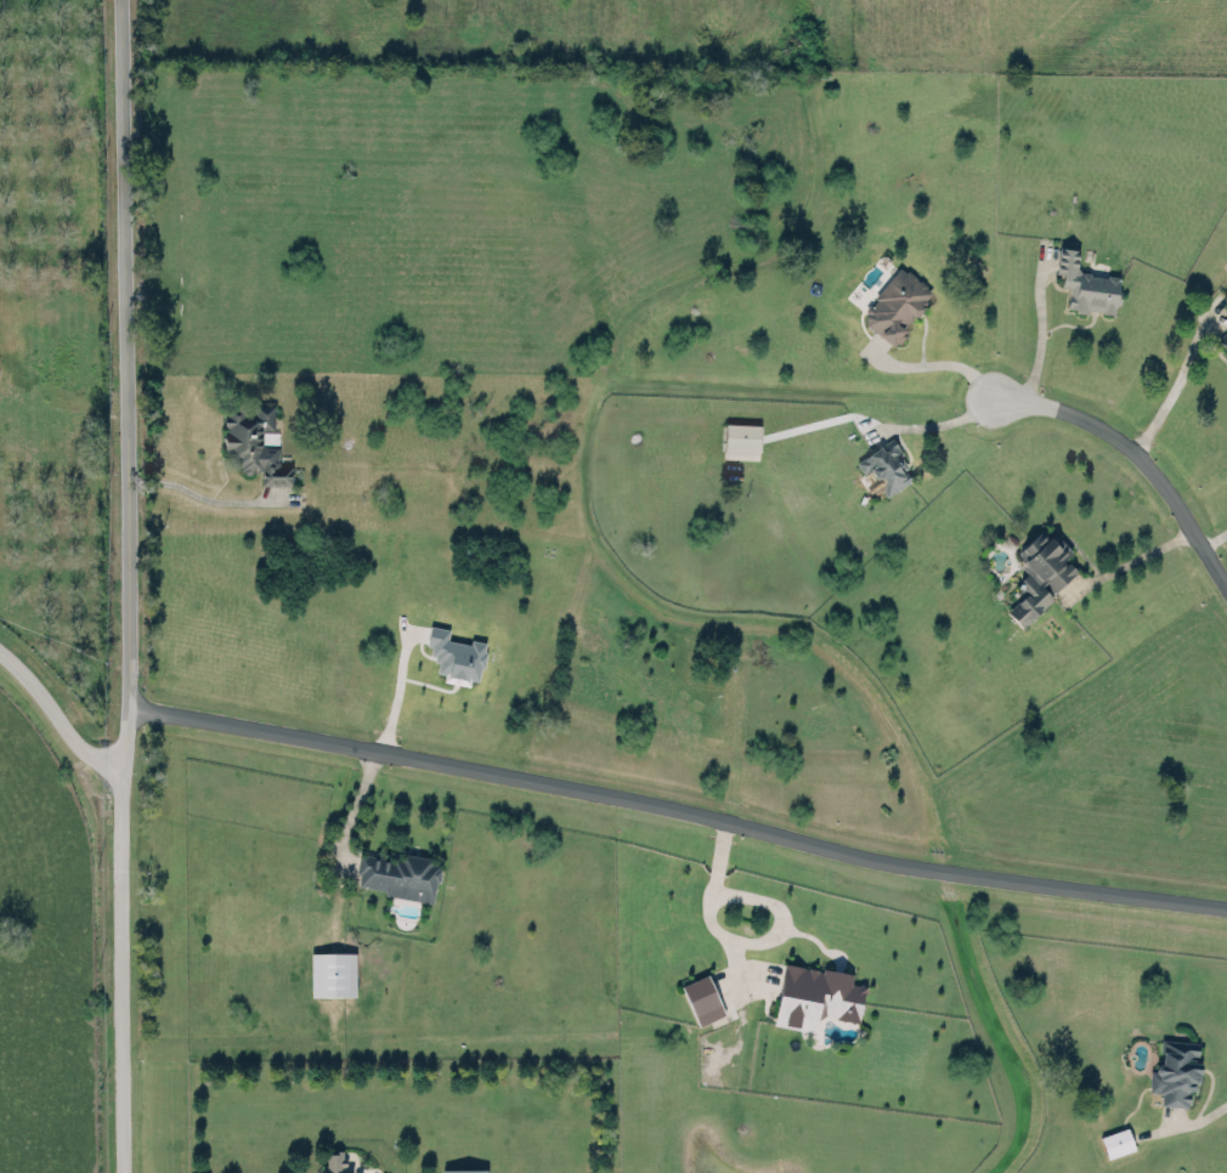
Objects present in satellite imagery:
crop: (701, 29)
building: (1085, 282)
building: (895, 304)
road: (1041, 329)
building: (1223, 335)
road: (932, 364)
road: (1176, 380)
road: (120, 382)
road: (932, 424)
building: (740, 438)
building: (254, 443)
road: (1138, 459)
building: (884, 465)
road: (198, 492)
road: (1211, 537)
road: (1129, 562)
building: (1040, 571)
building: (454, 650)
road: (392, 693)
road: (53, 715)
road: (354, 804)
road: (675, 809)
building: (398, 872)
road: (734, 937)
road: (119, 969)
building: (332, 971)
building: (815, 991)
building: (701, 997)
building: (1175, 1071)
road: (1197, 1118)
building: (1115, 1140)
building: (335, 1161)
building: (463, 1169)

